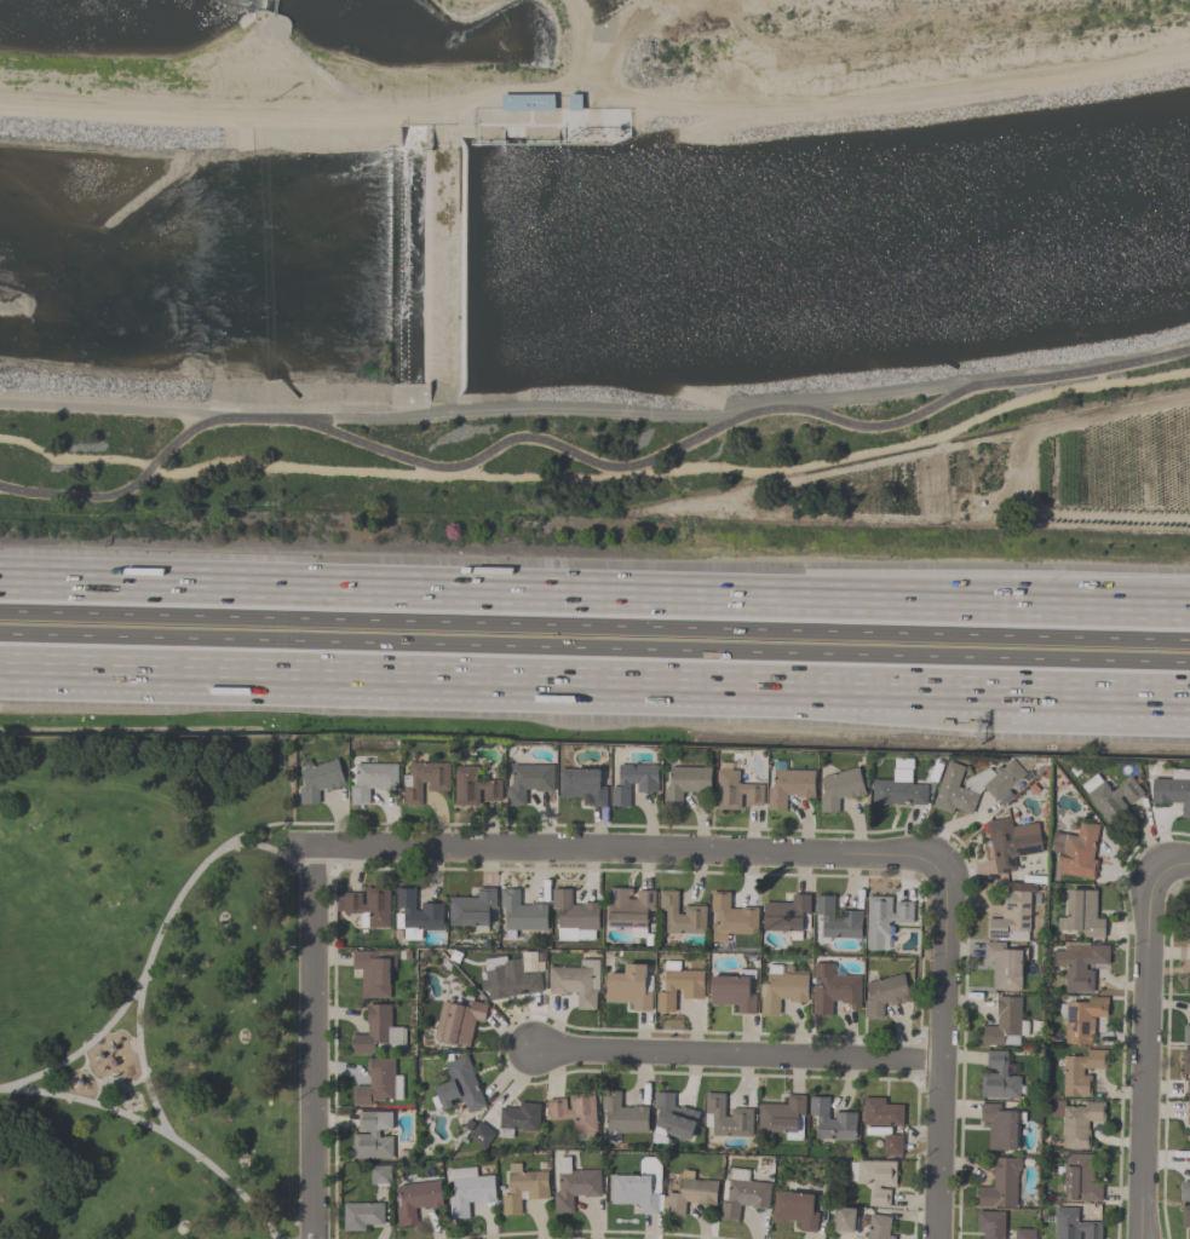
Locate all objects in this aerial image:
river: (596, 258)
road: (113, 408)
road: (585, 459)
crop: (1100, 483)
road: (484, 589)
road: (1079, 604)
road: (594, 626)
road: (594, 650)
road: (484, 684)
road: (1080, 697)
building: (1002, 778)
building: (425, 779)
building: (321, 780)
building: (373, 780)
building: (633, 780)
building: (528, 782)
building: (684, 783)
building: (582, 784)
building: (473, 785)
building: (788, 785)
building: (838, 788)
building: (734, 789)
building: (898, 789)
building: (953, 790)
building: (1172, 790)
building: (1110, 795)
building: (1011, 842)
road: (623, 851)
building: (1076, 851)
road: (1175, 868)
building: (366, 906)
building: (471, 907)
building: (630, 909)
building: (522, 911)
building: (415, 914)
building: (680, 915)
building: (787, 915)
building: (1080, 915)
building: (574, 916)
building: (730, 917)
building: (1011, 917)
building: (837, 918)
building: (884, 920)
building: (1188, 930)
road: (155, 937)
building: (1189, 952)
building: (1079, 964)
building: (1004, 966)
building: (370, 973)
building: (512, 974)
building: (575, 981)
building: (678, 985)
building: (630, 986)
park: (148, 987)
building: (781, 989)
building: (832, 989)
building: (732, 990)
building: (884, 993)
building: (1081, 1018)
building: (456, 1020)
building: (1005, 1022)
building: (375, 1028)
building: (1185, 1035)
road: (312, 1042)
road: (80, 1049)
road: (942, 1049)
road: (1145, 1054)
road: (737, 1056)
building: (1185, 1061)
building: (1080, 1071)
building: (998, 1077)
building: (375, 1082)
building: (459, 1084)
building: (1188, 1087)
building: (573, 1110)
building: (1188, 1110)
building: (881, 1112)
building: (622, 1113)
building: (725, 1117)
building: (781, 1117)
building: (518, 1118)
building: (669, 1118)
building: (830, 1120)
building: (1076, 1120)
building: (1001, 1125)
road: (156, 1130)
building: (481, 1134)
building: (372, 1135)
building: (892, 1143)
building: (379, 1175)
building: (1080, 1176)
building: (874, 1179)
building: (1000, 1183)
building: (574, 1185)
building: (522, 1187)
building: (639, 1187)
building: (467, 1189)
building: (1184, 1191)
building: (690, 1193)
building: (741, 1193)
building: (415, 1199)
building: (794, 1209)
building: (361, 1214)
building: (1185, 1218)
building: (844, 1220)
building: (989, 1224)
building: (1073, 1224)
building: (878, 1227)
building: (1024, 1233)

